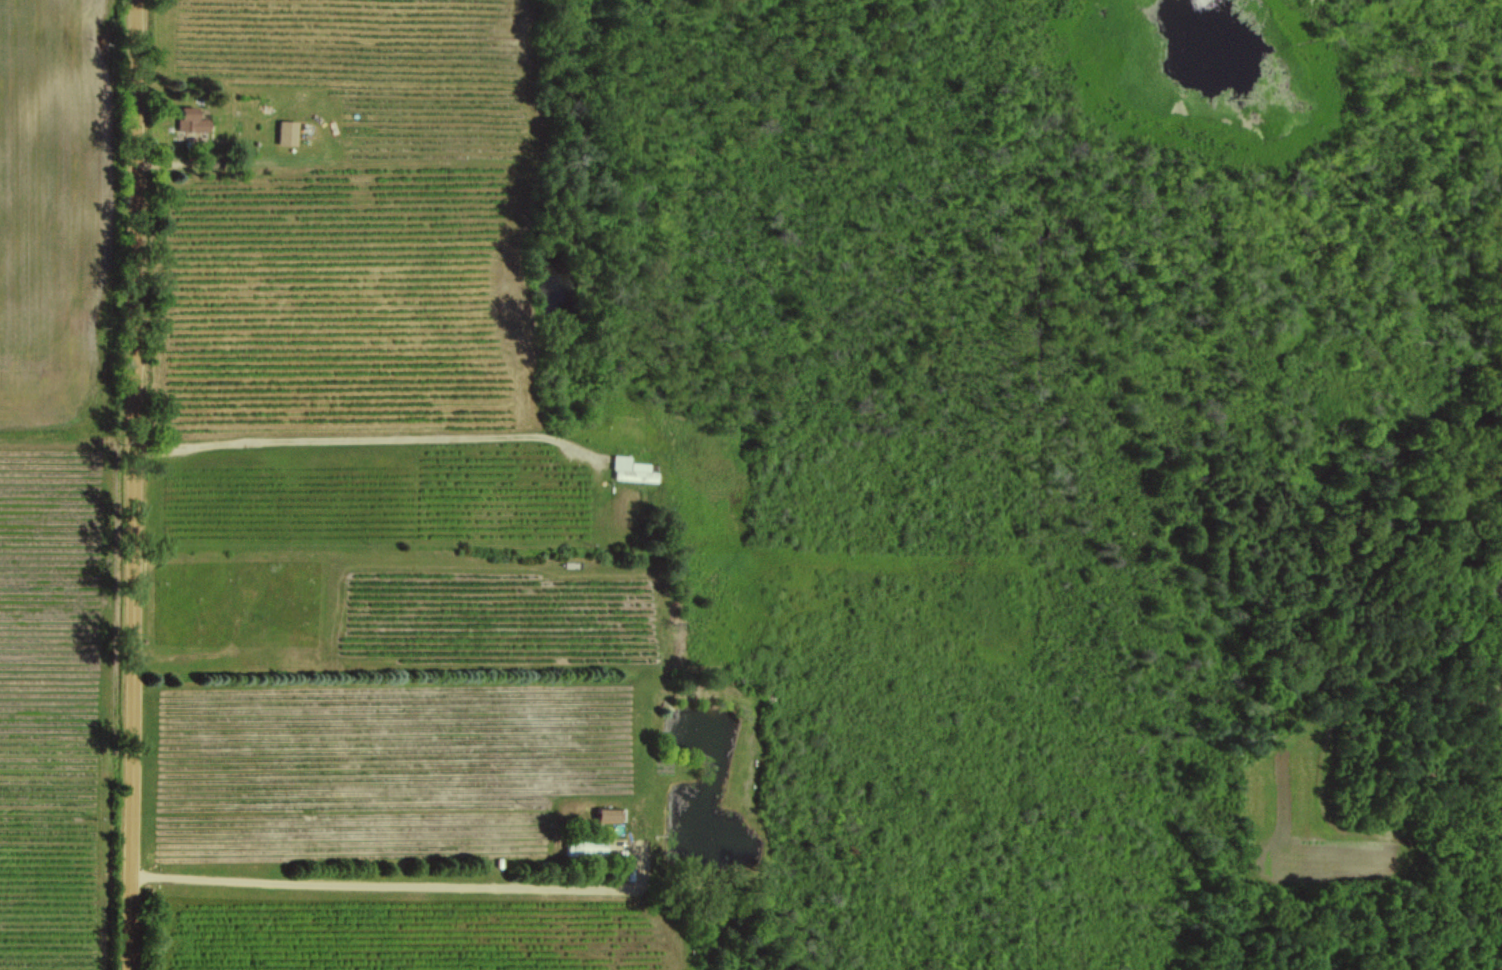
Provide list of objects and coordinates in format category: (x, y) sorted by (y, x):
building: (192, 120)
building: (288, 132)
building: (633, 470)
road: (138, 485)
building: (609, 814)
building: (587, 848)

